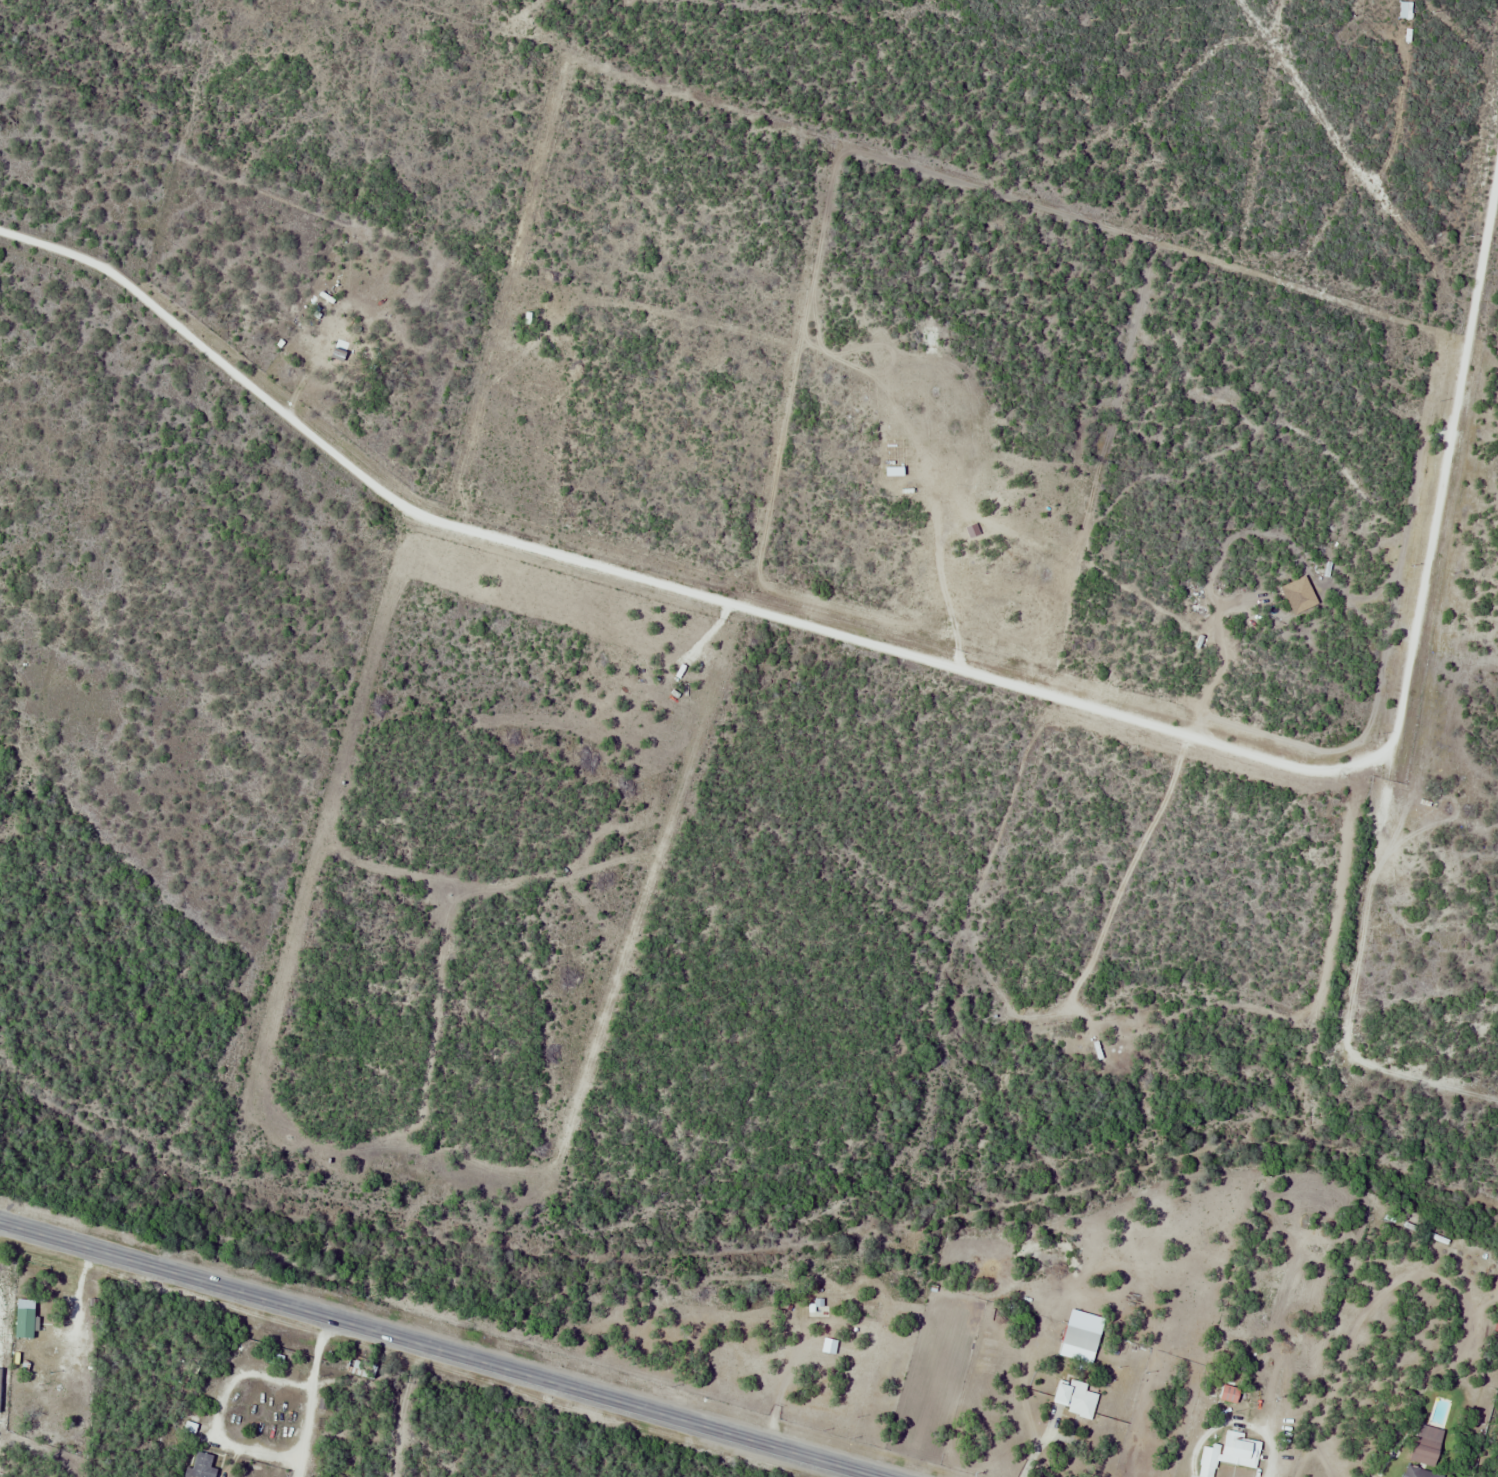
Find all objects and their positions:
building: (818, 1304)
building: (25, 1318)
building: (1080, 1340)
road: (439, 1349)
building: (360, 1369)
building: (1229, 1394)
road: (311, 1396)
building: (1076, 1399)
building: (1229, 1454)
building: (202, 1466)
building: (1418, 1473)

